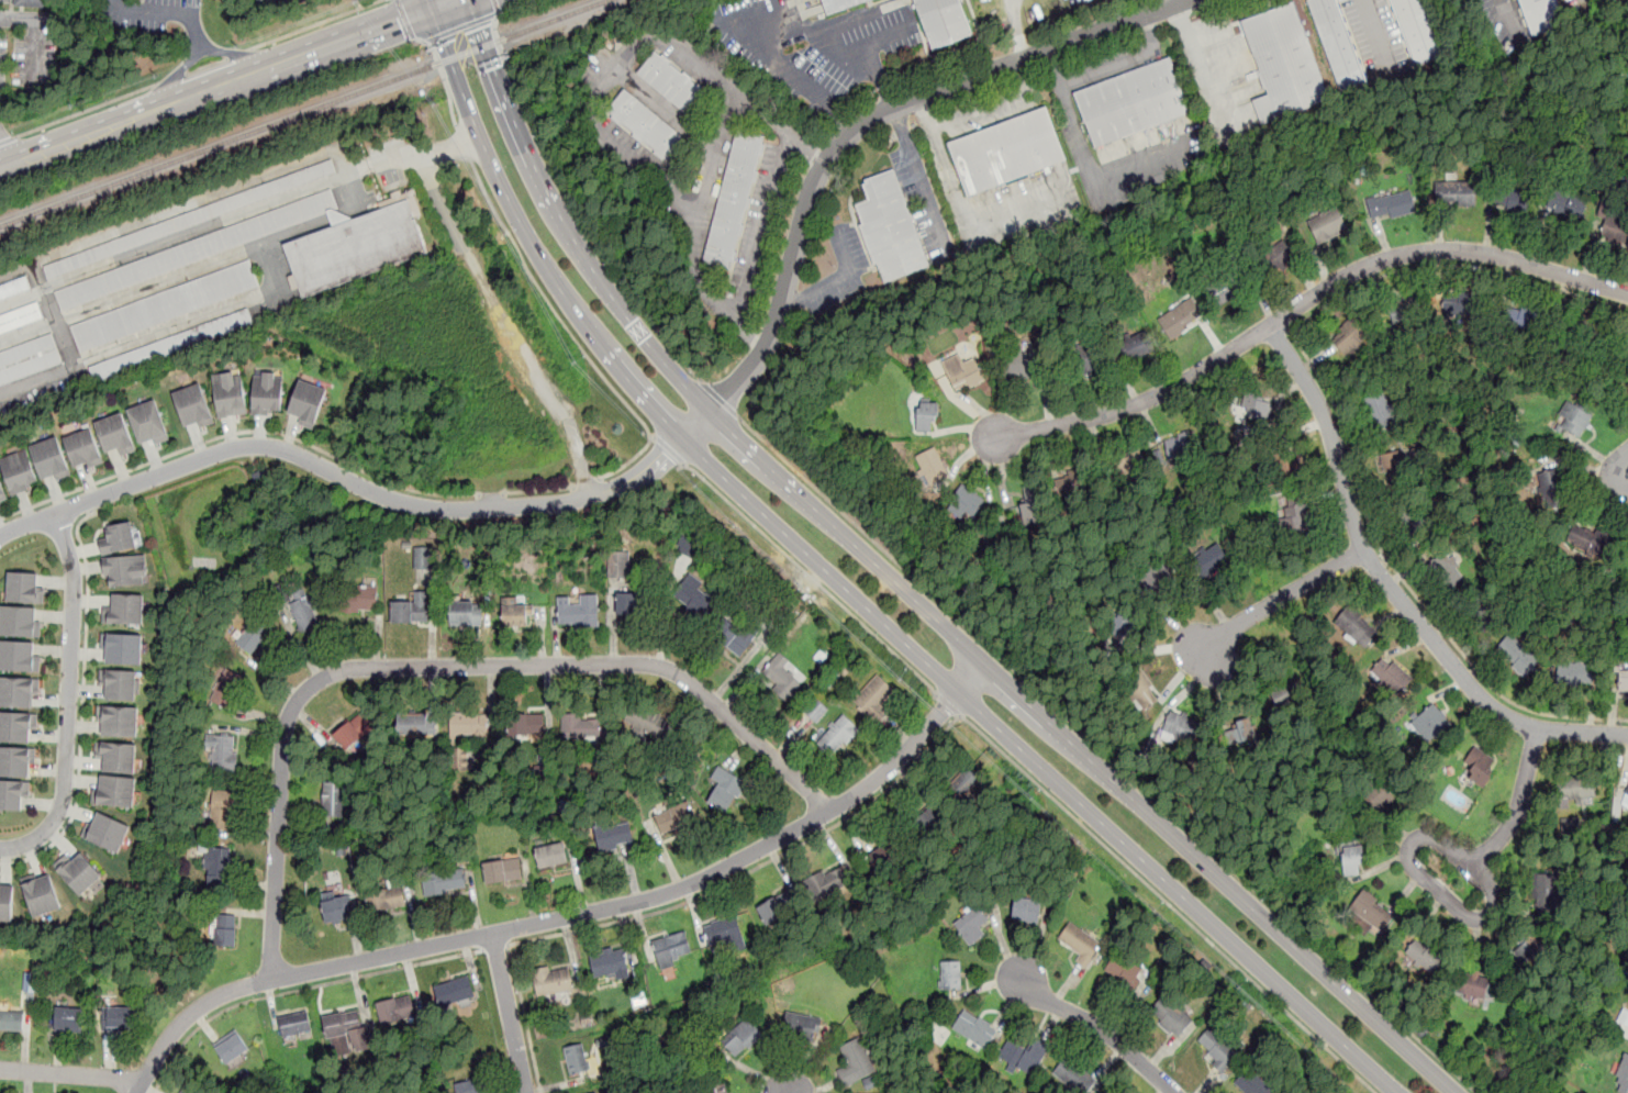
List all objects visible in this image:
road: (1174, 1)
building: (31, 2)
road: (433, 3)
building: (835, 4)
road: (497, 5)
road: (165, 13)
building: (1540, 14)
road: (1507, 16)
road: (406, 19)
traffic signals: (399, 21)
building: (938, 21)
road: (316, 24)
road: (460, 26)
traffic signals: (482, 26)
road: (1017, 29)
building: (1420, 31)
road: (1378, 34)
road: (839, 41)
building: (1338, 46)
road: (236, 53)
road: (239, 53)
road: (1126, 62)
building: (1283, 62)
road: (207, 66)
road: (1052, 69)
road: (178, 76)
road: (445, 76)
road: (171, 78)
road: (227, 85)
building: (673, 85)
road: (803, 88)
road: (596, 101)
building: (1131, 102)
road: (992, 103)
road: (88, 110)
railway: (303, 114)
building: (647, 127)
road: (851, 131)
road: (9, 140)
road: (462, 143)
road: (5, 154)
road: (412, 154)
building: (1013, 157)
road: (714, 160)
road: (1094, 182)
building: (1452, 193)
building: (732, 196)
building: (1512, 198)
road: (960, 202)
building: (1564, 202)
building: (1393, 204)
road: (572, 207)
park: (1198, 207)
building: (192, 218)
building: (1616, 224)
building: (1328, 225)
road: (763, 227)
building: (895, 230)
building: (354, 247)
building: (197, 249)
building: (1276, 255)
road: (1453, 265)
road: (838, 278)
building: (1228, 286)
building: (14, 287)
road: (1304, 301)
building: (166, 304)
road: (549, 306)
building: (1405, 311)
building: (1462, 312)
building: (21, 316)
building: (1180, 317)
building: (1519, 320)
road: (509, 322)
building: (1350, 337)
building: (1588, 341)
building: (171, 344)
building: (1137, 345)
building: (1625, 356)
building: (29, 358)
building: (1019, 365)
building: (1084, 365)
building: (962, 371)
building: (266, 392)
building: (230, 393)
road: (720, 398)
building: (306, 400)
building: (192, 404)
building: (1261, 408)
building: (1379, 410)
building: (926, 415)
building: (1572, 419)
building: (148, 422)
road: (238, 432)
building: (115, 434)
building: (82, 447)
building: (1182, 447)
road: (670, 450)
building: (49, 457)
building: (1283, 458)
road: (629, 460)
building: (928, 464)
building: (1396, 466)
building: (1130, 467)
building: (18, 470)
road: (1626, 478)
building: (1074, 480)
road: (587, 482)
road: (369, 489)
building: (1548, 489)
road: (539, 490)
building: (2, 492)
road: (489, 493)
road: (88, 497)
building: (964, 504)
building: (1033, 505)
building: (1294, 515)
building: (1419, 516)
road: (26, 524)
building: (120, 537)
building: (1588, 537)
building: (423, 557)
building: (1209, 560)
building: (618, 564)
building: (126, 569)
building: (1446, 570)
road: (813, 578)
road: (1403, 580)
building: (1158, 585)
building: (24, 587)
road: (906, 589)
road: (1393, 590)
building: (695, 596)
road: (855, 596)
building: (358, 599)
road: (1282, 599)
building: (626, 602)
building: (125, 607)
building: (411, 609)
building: (578, 611)
building: (464, 614)
building: (305, 615)
building: (515, 615)
building: (19, 621)
building: (1360, 624)
building: (737, 634)
building: (256, 637)
building: (1111, 645)
building: (122, 647)
building: (1518, 655)
building: (19, 656)
road: (443, 666)
building: (1574, 671)
building: (781, 678)
building: (1394, 678)
building: (1624, 681)
building: (119, 683)
building: (226, 688)
building: (18, 690)
building: (1292, 692)
building: (1140, 693)
building: (874, 698)
road: (68, 699)
road: (947, 703)
road: (82, 704)
building: (815, 711)
building: (119, 720)
building: (650, 724)
building: (1431, 724)
building: (16, 725)
building: (416, 725)
building: (470, 725)
building: (526, 725)
building: (581, 726)
building: (1181, 727)
building: (354, 729)
building: (1239, 732)
building: (836, 735)
building: (222, 754)
road: (1107, 755)
building: (116, 756)
building: (16, 759)
building: (1479, 767)
building: (962, 782)
building: (1576, 789)
building: (725, 790)
building: (115, 791)
building: (13, 793)
building: (335, 799)
building: (1379, 800)
building: (1625, 800)
building: (220, 810)
building: (922, 814)
building: (672, 818)
building: (1570, 823)
building: (107, 830)
building: (614, 836)
building: (551, 856)
building: (892, 859)
building: (1350, 859)
building: (218, 866)
road: (757, 868)
building: (502, 870)
building: (80, 874)
building: (444, 882)
building: (827, 883)
building: (41, 895)
building: (1547, 896)
building: (5, 900)
building: (387, 900)
road: (1170, 903)
road: (1493, 905)
building: (336, 907)
building: (779, 908)
building: (1026, 908)
building: (1372, 912)
road: (573, 915)
building: (971, 924)
building: (220, 929)
building: (723, 932)
building: (1080, 943)
road: (495, 947)
building: (672, 948)
building: (1529, 948)
building: (1425, 956)
building: (609, 967)
building: (1122, 968)
building: (951, 974)
building: (31, 981)
building: (553, 981)
building: (1474, 984)
road: (298, 990)
building: (455, 991)
building: (397, 1010)
road: (510, 1012)
building: (1171, 1015)
building: (118, 1017)
building: (68, 1018)
road: (525, 1018)
building: (11, 1019)
building: (1626, 1019)
building: (294, 1024)
building: (802, 1025)
building: (974, 1028)
road: (1102, 1028)
building: (346, 1030)
building: (743, 1036)
building: (1220, 1044)
building: (231, 1047)
building: (1023, 1056)
building: (577, 1059)
building: (856, 1061)
road: (70, 1074)
building: (1071, 1074)
building: (1623, 1075)
building: (871, 1082)
building: (1252, 1083)
building: (469, 1086)
building: (716, 1088)
building: (190, 1090)

